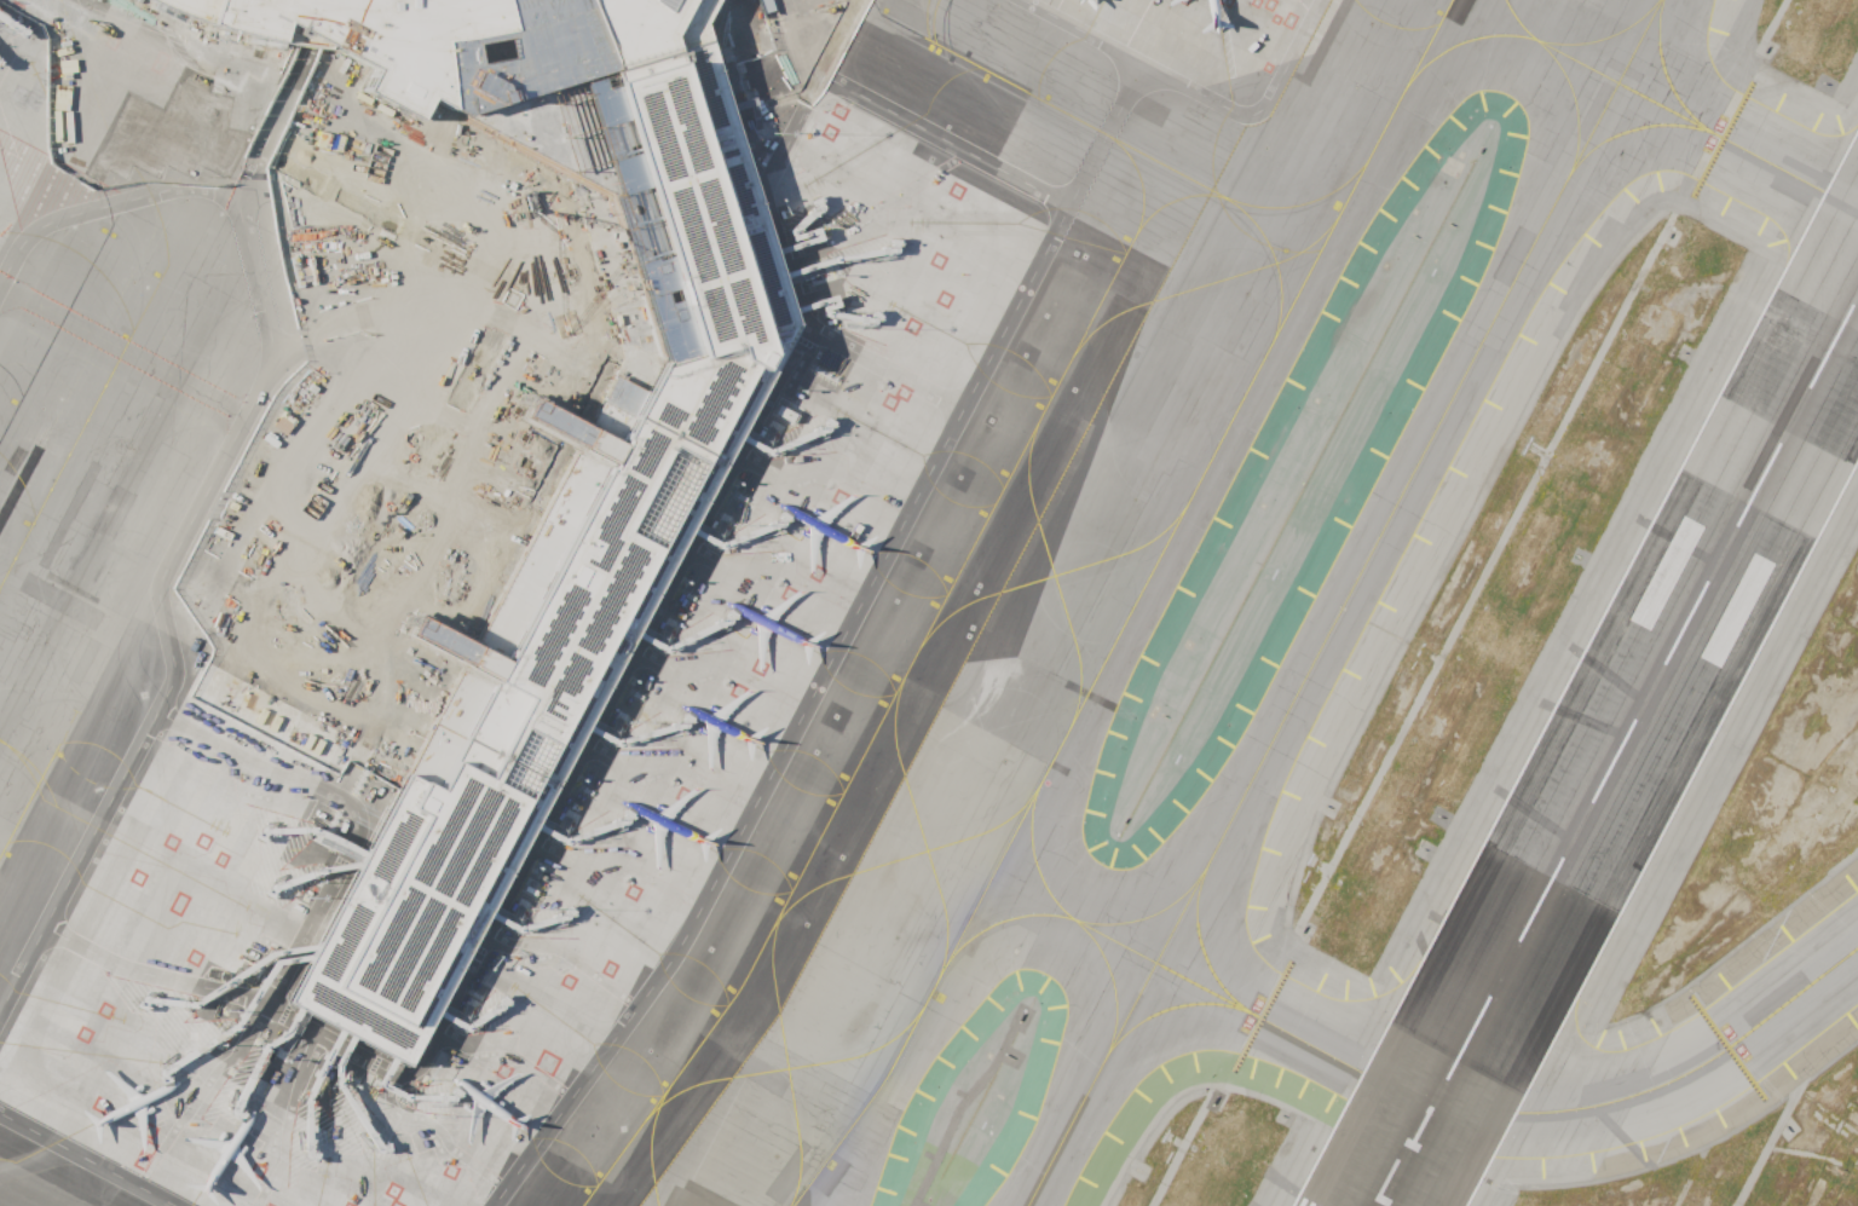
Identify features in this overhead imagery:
airport apron: (1208, 30)
road: (1079, 31)
airport taxiway: (1603, 37)
airport apron: (91, 90)
airport taxiway: (1632, 90)
road: (1256, 105)
airport taxiway: (1615, 134)
airport taxiway: (1119, 138)
road: (975, 156)
airport taxiway: (1181, 194)
airport taxiway: (1304, 201)
road: (882, 367)
airport taxiway: (44, 437)
airport taxiway: (64, 455)
building: (539, 477)
road: (275, 491)
airport terminal: (608, 529)
building: (608, 529)
airport: (929, 602)
airport taxiway: (1344, 604)
airport taxiway: (1129, 608)
airport apron: (471, 641)
airport taxiway: (100, 651)
airport taxiway: (901, 688)
road: (798, 716)
airport runway: (1617, 748)
road: (571, 766)
airport taxiway: (1147, 914)
airport taxiway: (1201, 947)
airport taxiway: (1110, 977)
road: (0, 1004)
airport taxiway: (1398, 1086)
road: (85, 1160)

